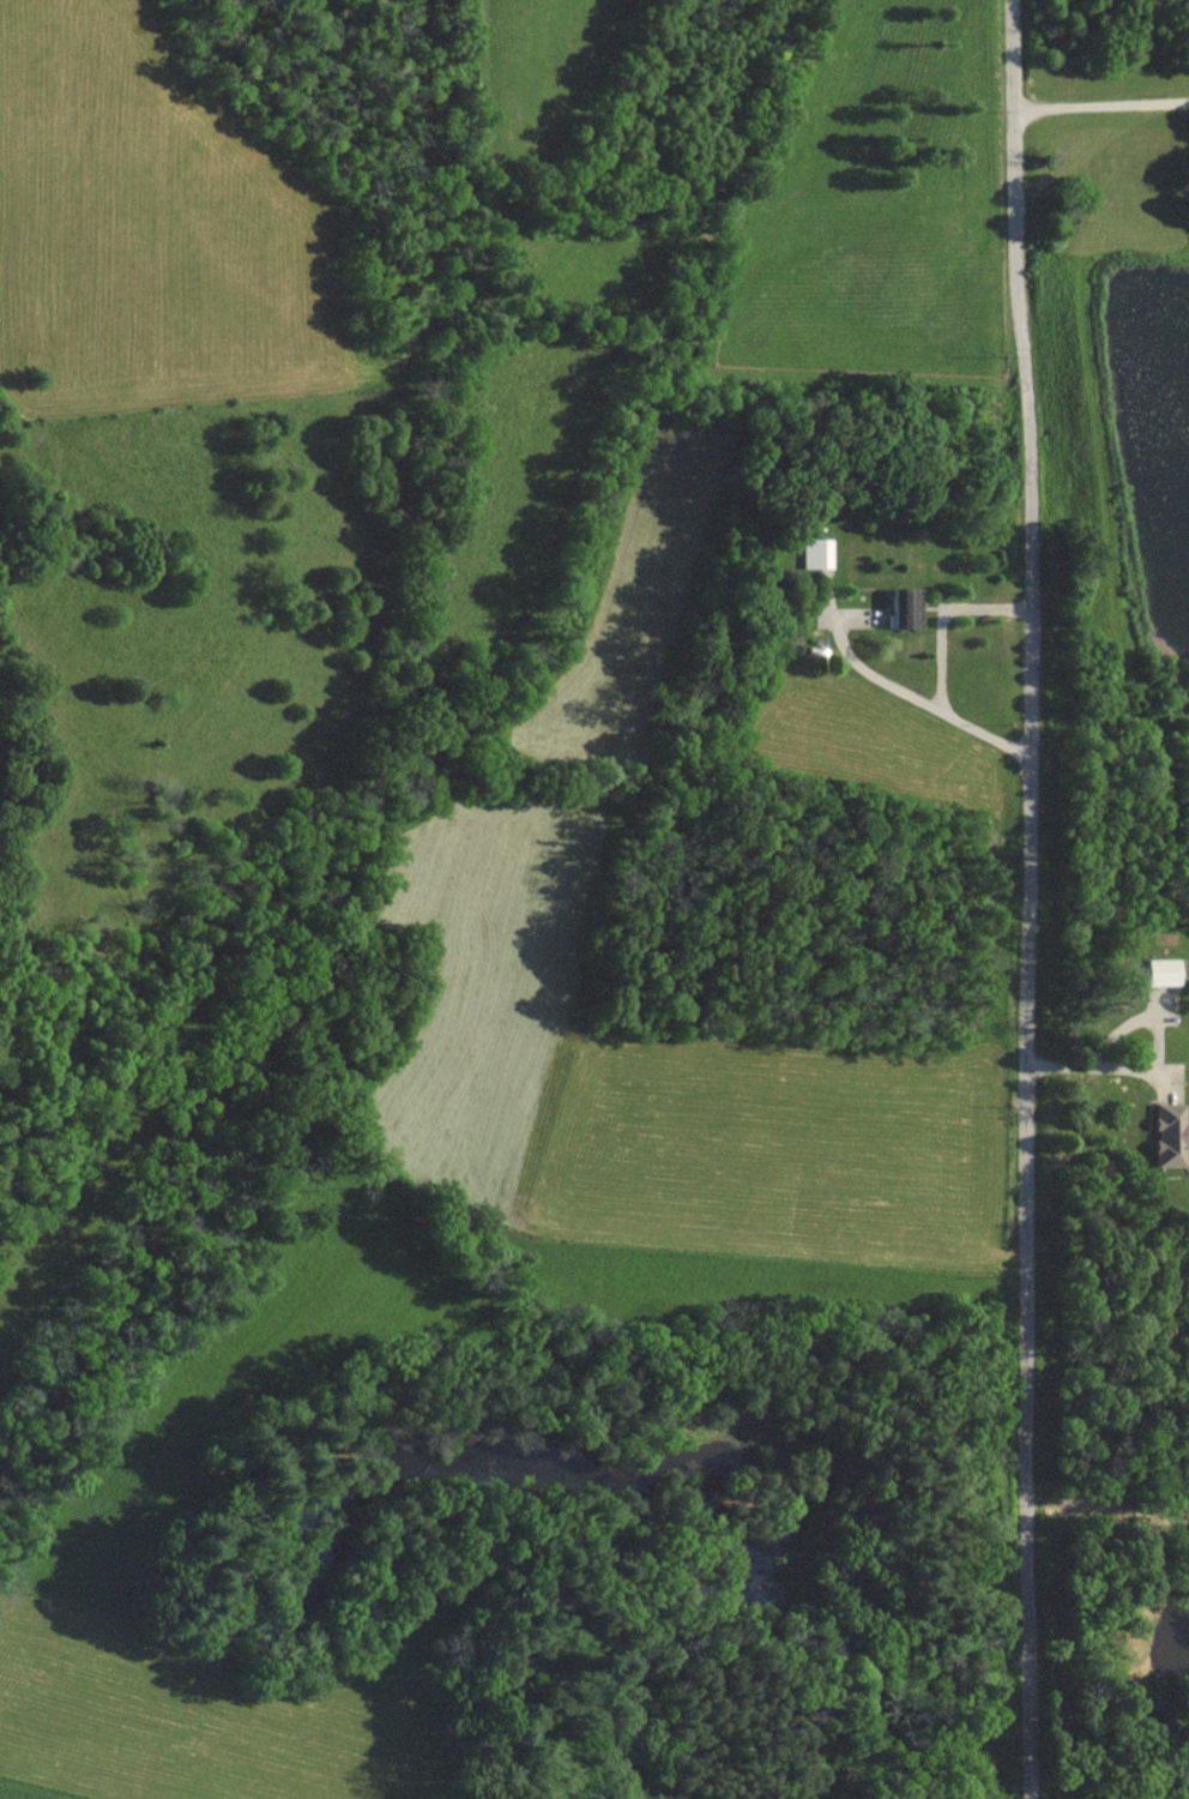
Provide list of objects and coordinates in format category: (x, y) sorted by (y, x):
road: (1100, 103)
building: (813, 552)
building: (901, 606)
road: (942, 666)
road: (864, 667)
road: (1024, 898)
building: (1158, 970)
road: (1093, 1066)
building: (1164, 1133)

